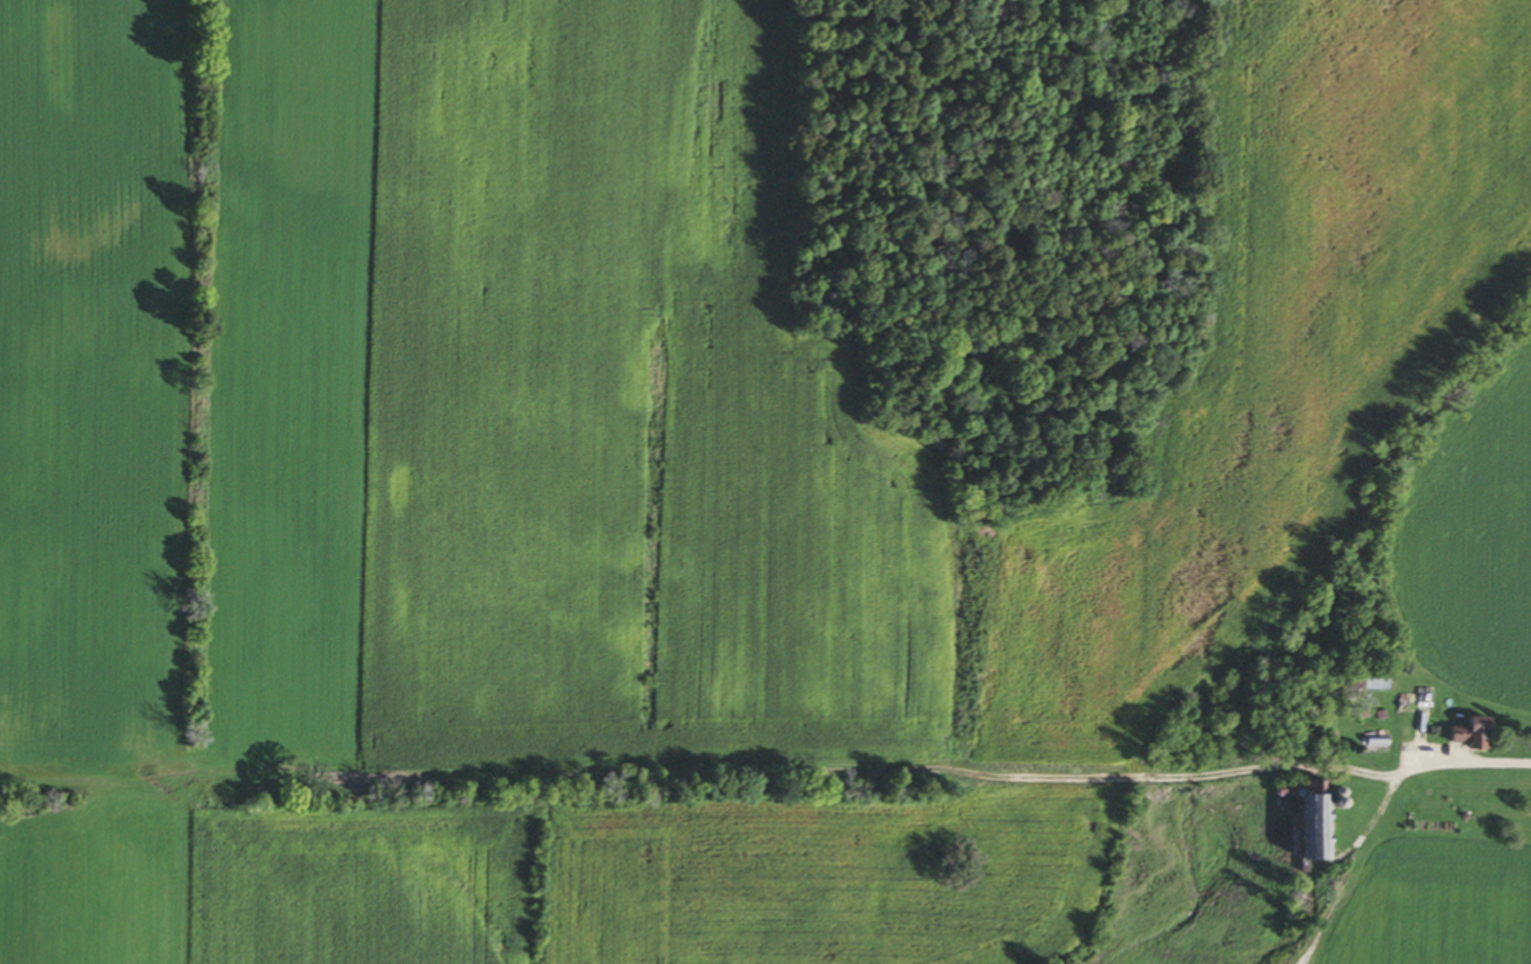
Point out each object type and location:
building: (1376, 681)
building: (1475, 734)
road: (1396, 768)
road: (1369, 817)
building: (1321, 820)

